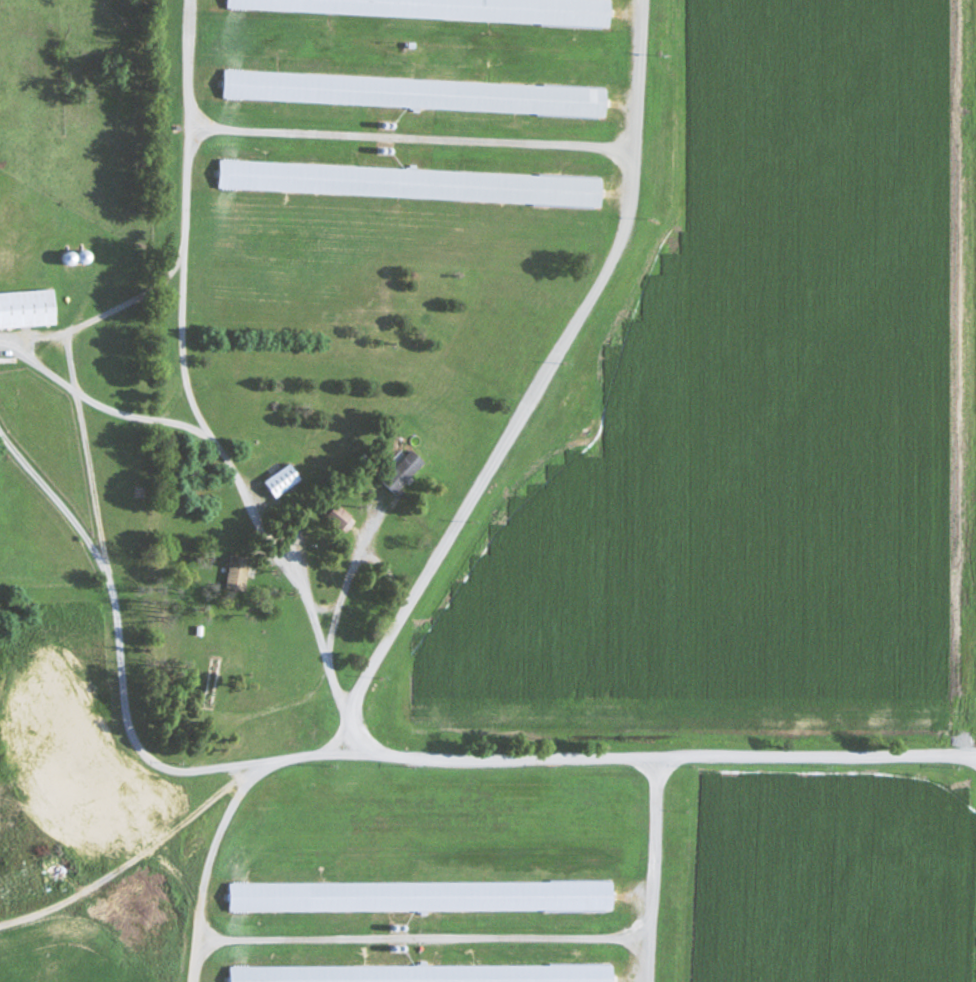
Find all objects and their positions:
building: (448, 10)
building: (421, 94)
building: (412, 184)
building: (29, 309)
road: (69, 334)
building: (409, 466)
building: (284, 481)
road: (54, 497)
road: (267, 526)
building: (239, 574)
road: (110, 594)
road: (281, 705)
road: (622, 755)
road: (142, 854)
building: (422, 897)
building: (421, 974)

